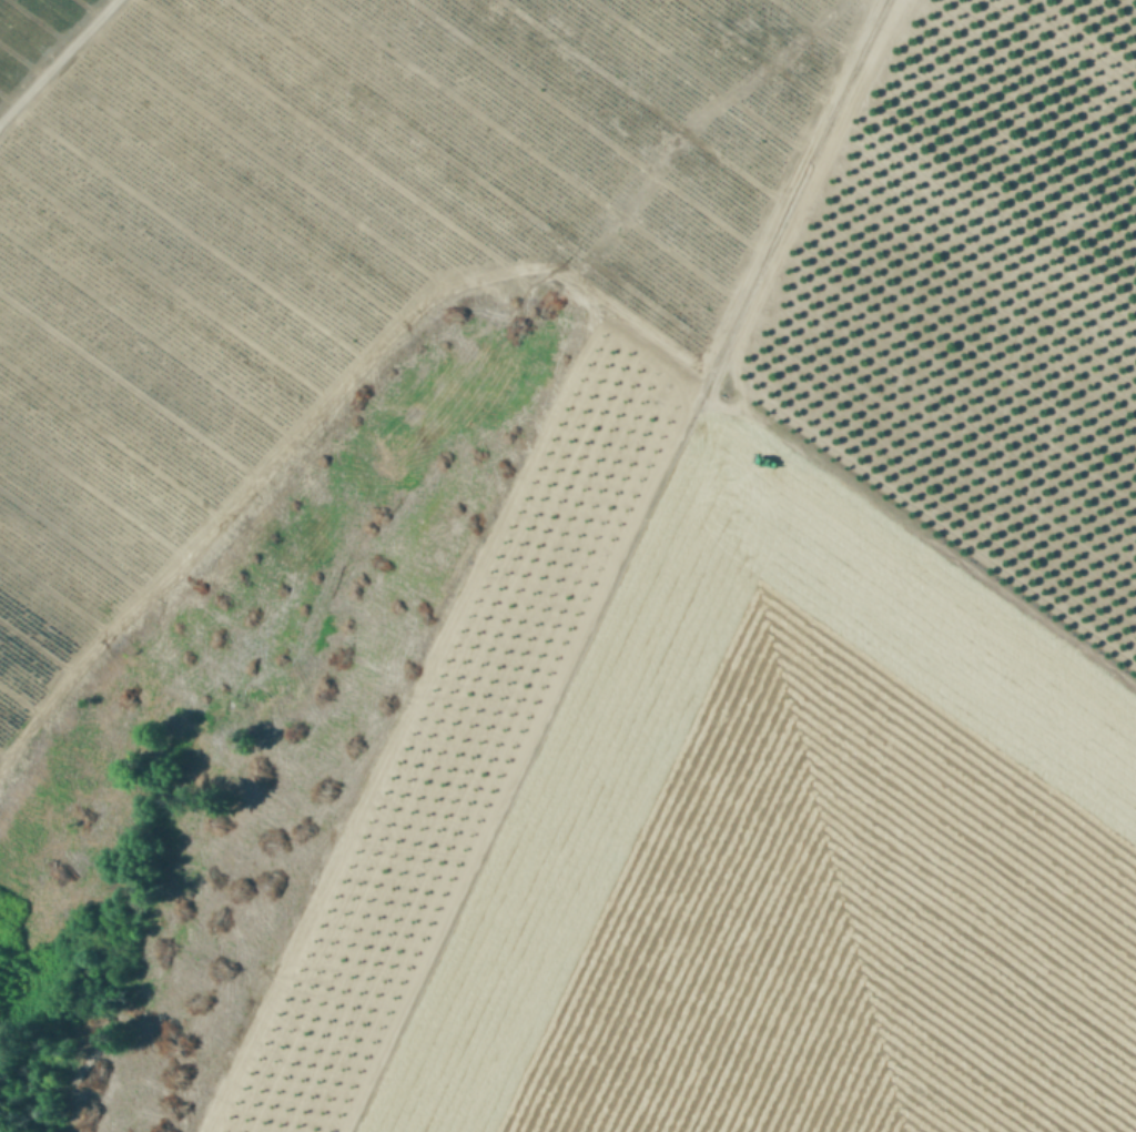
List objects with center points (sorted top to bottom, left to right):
crop: (488, 616)

